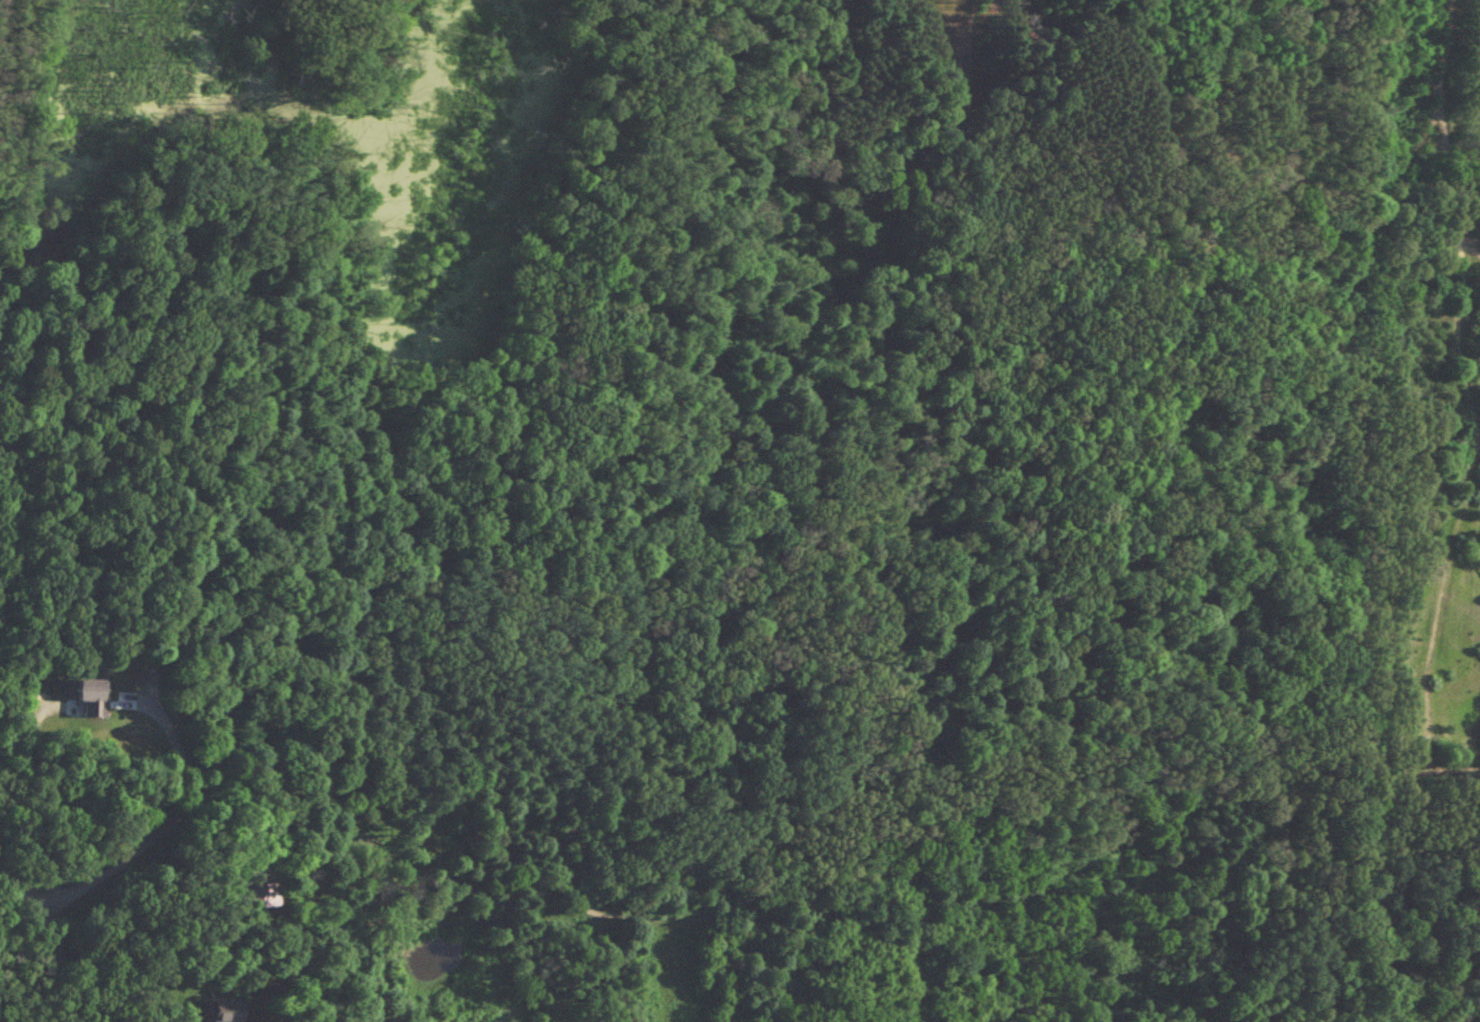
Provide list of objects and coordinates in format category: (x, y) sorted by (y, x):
building: (92, 696)
road: (155, 823)
road: (52, 946)
building: (224, 1015)

